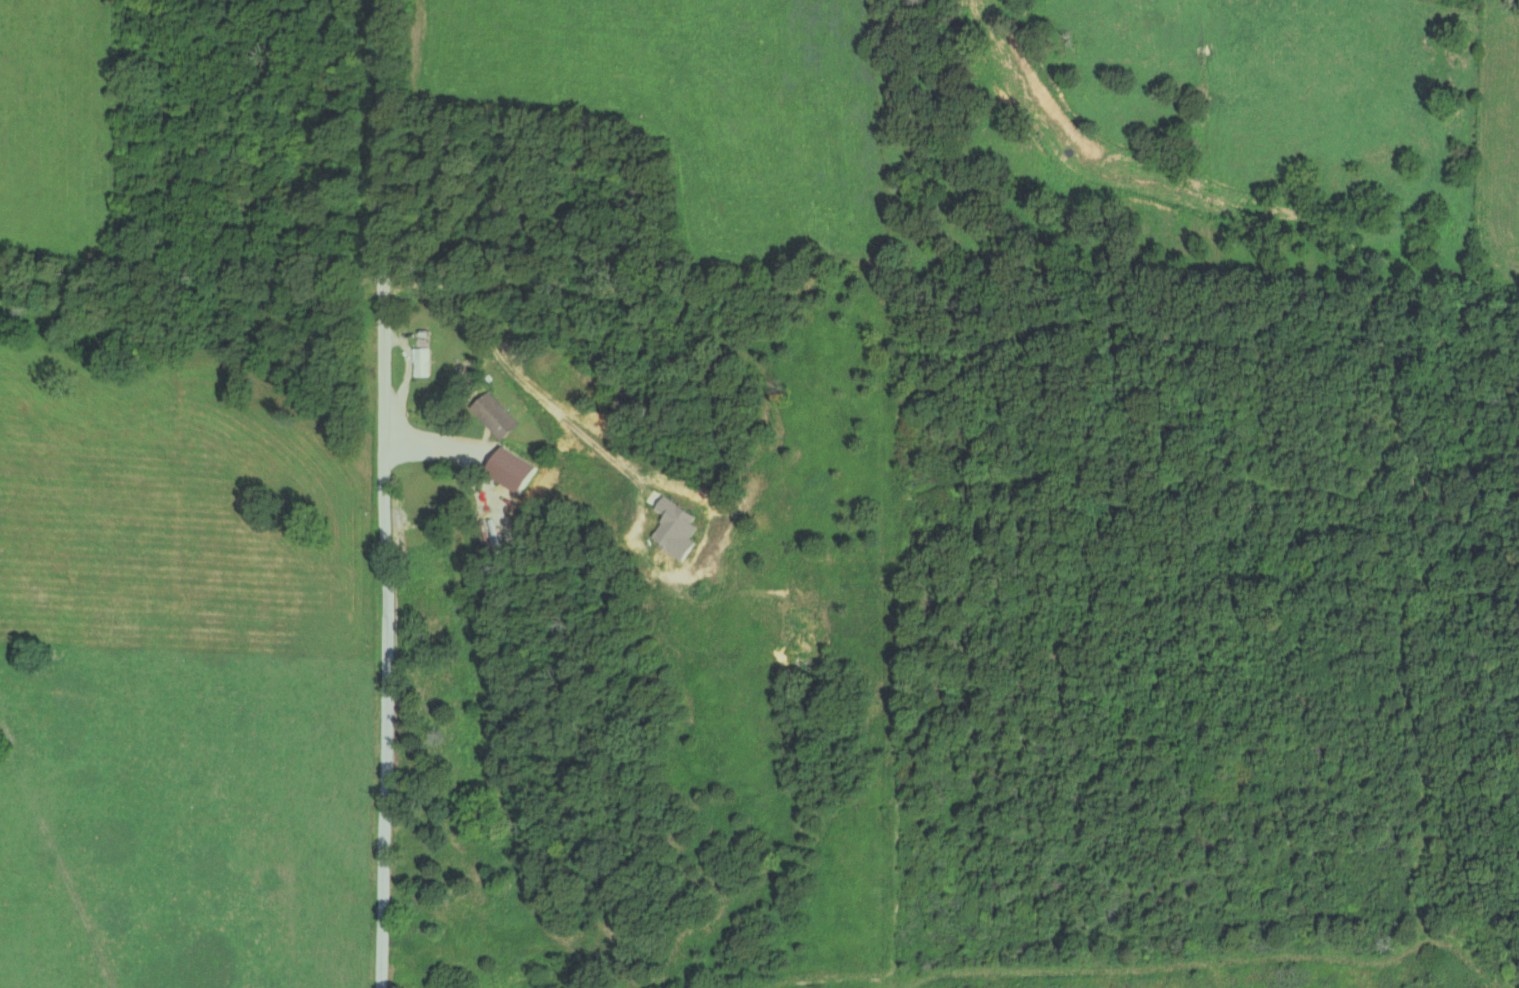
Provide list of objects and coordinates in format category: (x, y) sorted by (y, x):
building: (423, 362)
road: (516, 376)
road: (450, 445)
building: (514, 469)
road: (384, 493)
building: (677, 528)

